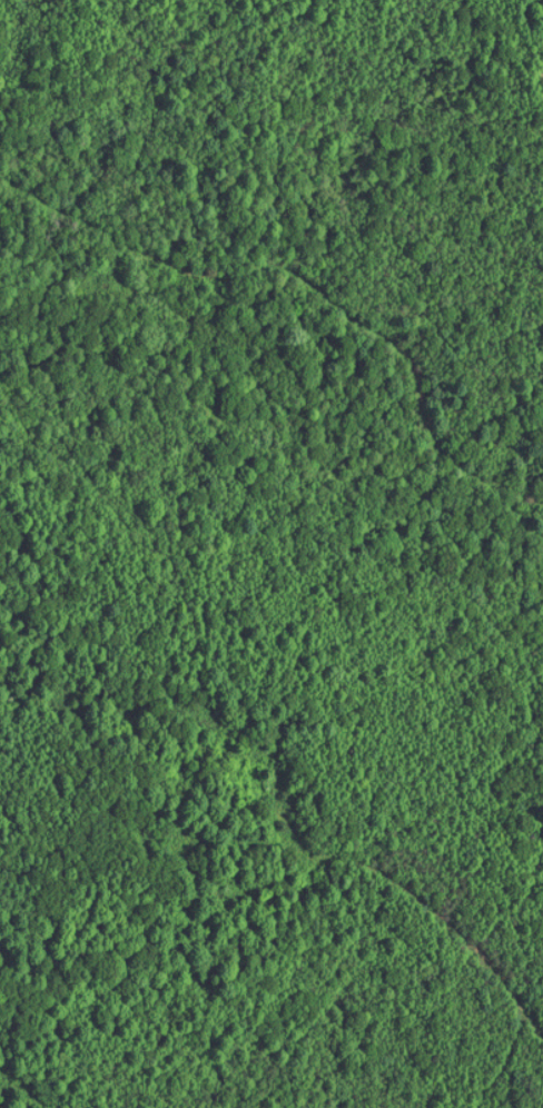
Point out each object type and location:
road: (309, 280)

